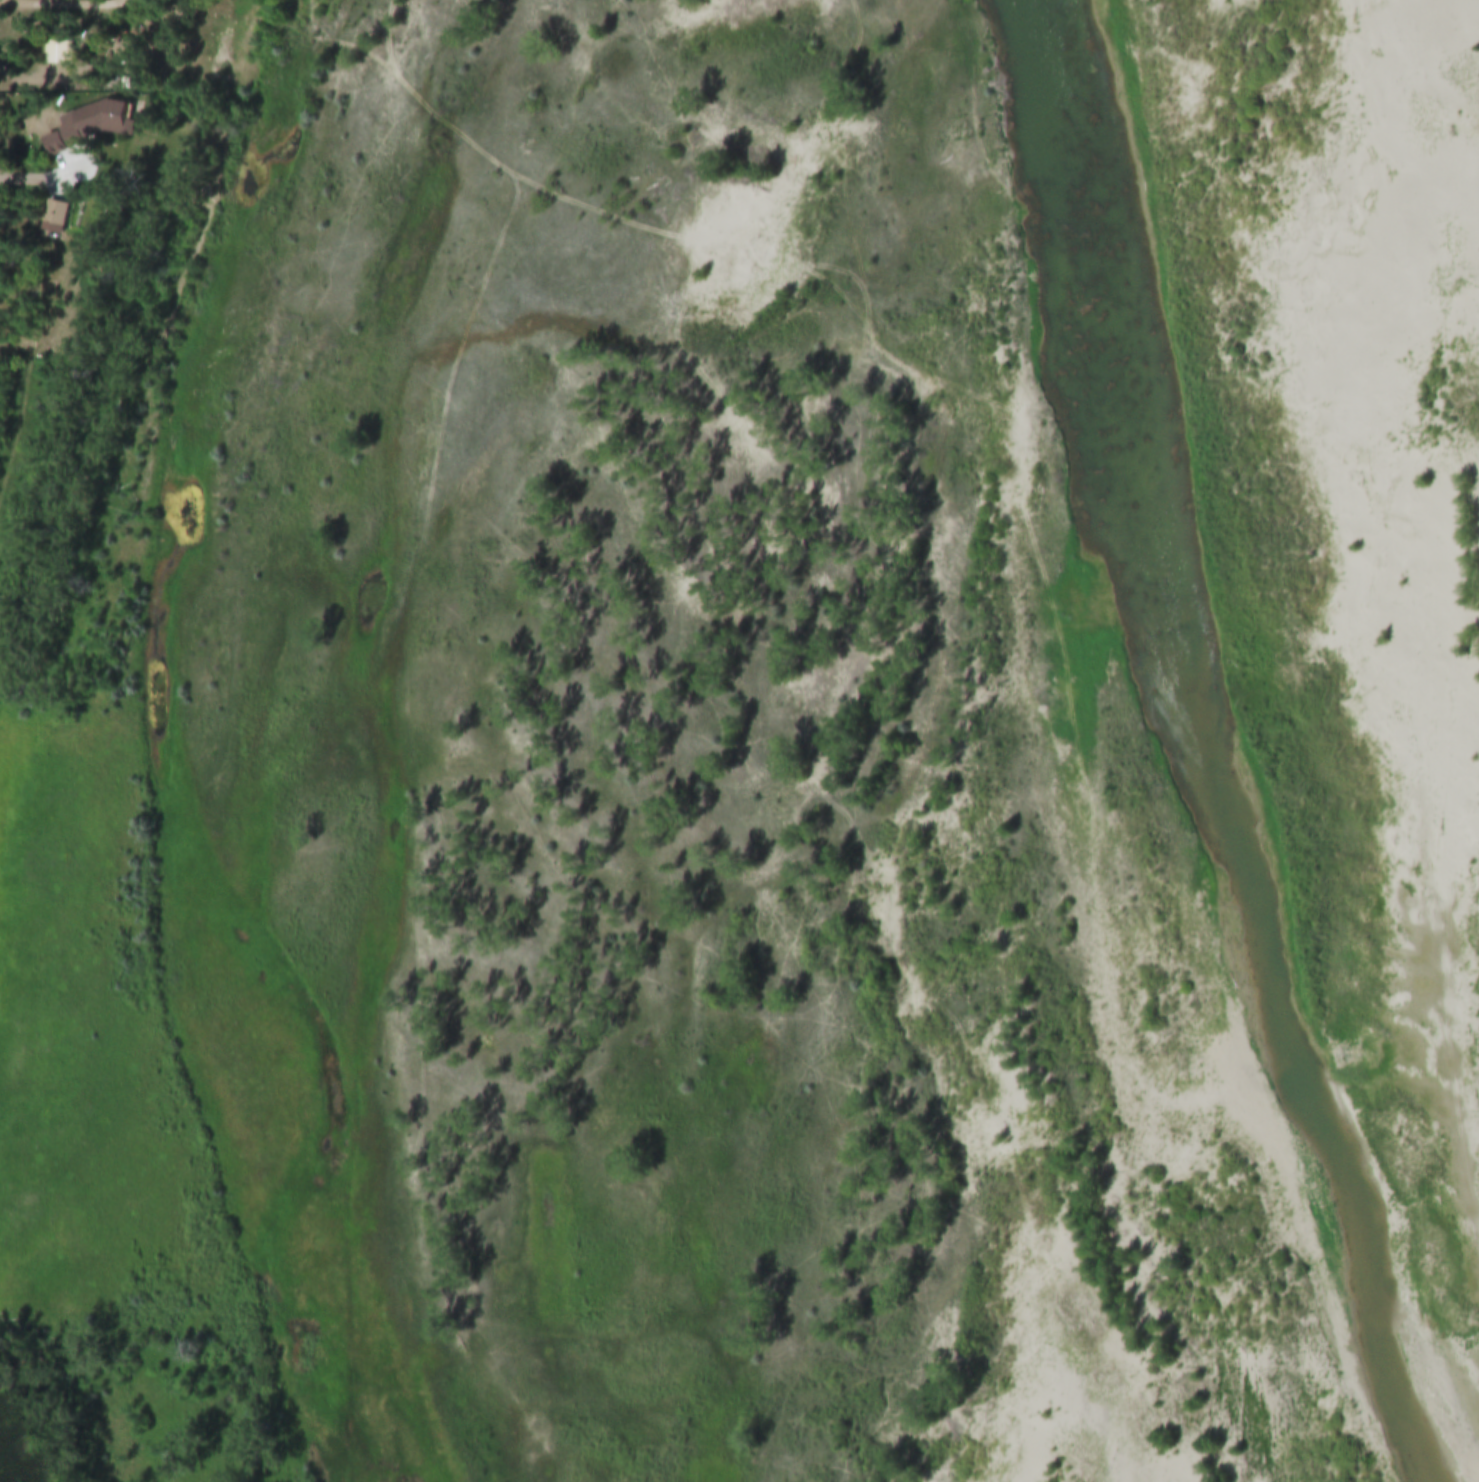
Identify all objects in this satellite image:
building: (112, 115)
building: (68, 133)
road: (37, 170)

